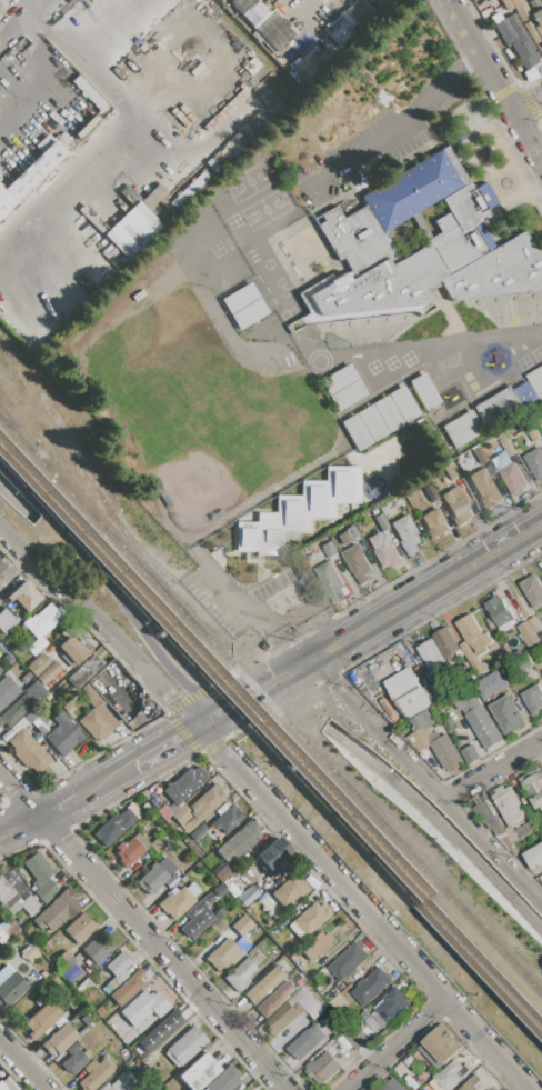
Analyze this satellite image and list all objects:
building: (379, 2)
road: (26, 9)
road: (43, 9)
building: (344, 22)
building: (538, 22)
building: (265, 23)
building: (531, 32)
building: (516, 41)
road: (212, 63)
road: (496, 79)
building: (89, 93)
road: (530, 108)
road: (137, 114)
road: (400, 124)
building: (29, 176)
road: (66, 176)
building: (151, 197)
building: (122, 227)
building: (424, 251)
building: (240, 298)
park: (238, 308)
building: (249, 313)
building: (339, 380)
building: (536, 381)
building: (424, 392)
building: (525, 393)
building: (348, 396)
building: (403, 404)
building: (499, 408)
building: (388, 413)
building: (372, 423)
building: (462, 429)
building: (357, 432)
building: (534, 436)
building: (508, 448)
building: (480, 454)
building: (534, 462)
building: (451, 471)
building: (513, 478)
building: (484, 489)
building: (431, 494)
road: (21, 501)
building: (395, 501)
building: (456, 506)
building: (387, 509)
building: (298, 512)
building: (382, 523)
building: (434, 523)
building: (352, 532)
building: (405, 534)
building: (343, 538)
building: (383, 550)
road: (481, 561)
building: (355, 563)
building: (1, 566)
building: (330, 580)
road: (112, 586)
building: (532, 590)
road: (233, 592)
building: (26, 596)
road: (281, 602)
building: (499, 610)
railway: (235, 611)
building: (46, 619)
building: (6, 621)
road: (103, 622)
building: (534, 623)
road: (368, 629)
building: (528, 632)
building: (473, 633)
building: (445, 641)
road: (279, 642)
building: (36, 646)
building: (71, 652)
building: (432, 657)
building: (474, 659)
building: (522, 660)
building: (38, 664)
building: (1, 669)
building: (83, 671)
road: (295, 671)
building: (541, 671)
building: (48, 673)
building: (491, 683)
building: (7, 690)
building: (118, 690)
building: (439, 690)
building: (408, 692)
building: (532, 699)
road: (238, 704)
railway: (272, 708)
building: (17, 710)
building: (508, 714)
building: (421, 720)
building: (480, 720)
building: (98, 722)
railway: (271, 724)
building: (18, 726)
building: (39, 726)
building: (63, 734)
railway: (271, 739)
road: (165, 744)
building: (444, 750)
building: (29, 752)
building: (470, 753)
road: (494, 770)
road: (104, 779)
road: (429, 780)
building: (184, 784)
building: (534, 789)
building: (508, 803)
road: (57, 806)
building: (199, 808)
building: (133, 810)
building: (489, 817)
building: (227, 820)
road: (440, 822)
road: (19, 824)
building: (114, 828)
building: (524, 829)
building: (198, 831)
building: (239, 841)
building: (158, 843)
building: (131, 849)
building: (272, 853)
building: (534, 856)
building: (38, 868)
building: (227, 873)
building: (155, 874)
building: (540, 876)
building: (46, 891)
building: (219, 891)
building: (290, 891)
building: (7, 894)
building: (179, 901)
building: (29, 904)
building: (202, 906)
road: (367, 908)
building: (58, 909)
building: (309, 920)
building: (197, 924)
building: (242, 926)
building: (80, 928)
road: (144, 932)
building: (367, 943)
building: (318, 946)
building: (98, 949)
building: (30, 953)
building: (223, 957)
building: (349, 960)
building: (64, 961)
building: (119, 968)
building: (240, 973)
building: (263, 984)
building: (10, 986)
building: (371, 986)
building: (128, 988)
building: (348, 990)
building: (274, 999)
building: (302, 1000)
building: (74, 1002)
building: (339, 1002)
building: (144, 1007)
building: (389, 1008)
building: (100, 1011)
building: (282, 1018)
building: (89, 1019)
building: (41, 1020)
building: (160, 1030)
building: (365, 1037)
building: (60, 1040)
building: (308, 1041)
building: (354, 1041)
road: (401, 1044)
building: (185, 1047)
building: (439, 1048)
building: (74, 1059)
road: (21, 1066)
building: (322, 1068)
building: (197, 1072)
building: (404, 1072)
building: (93, 1074)
building: (448, 1077)
building: (224, 1080)
building: (471, 1082)
building: (121, 1083)
building: (393, 1084)
building: (2, 1088)
building: (142, 1088)
building: (19, 1089)
building: (489, 1089)

